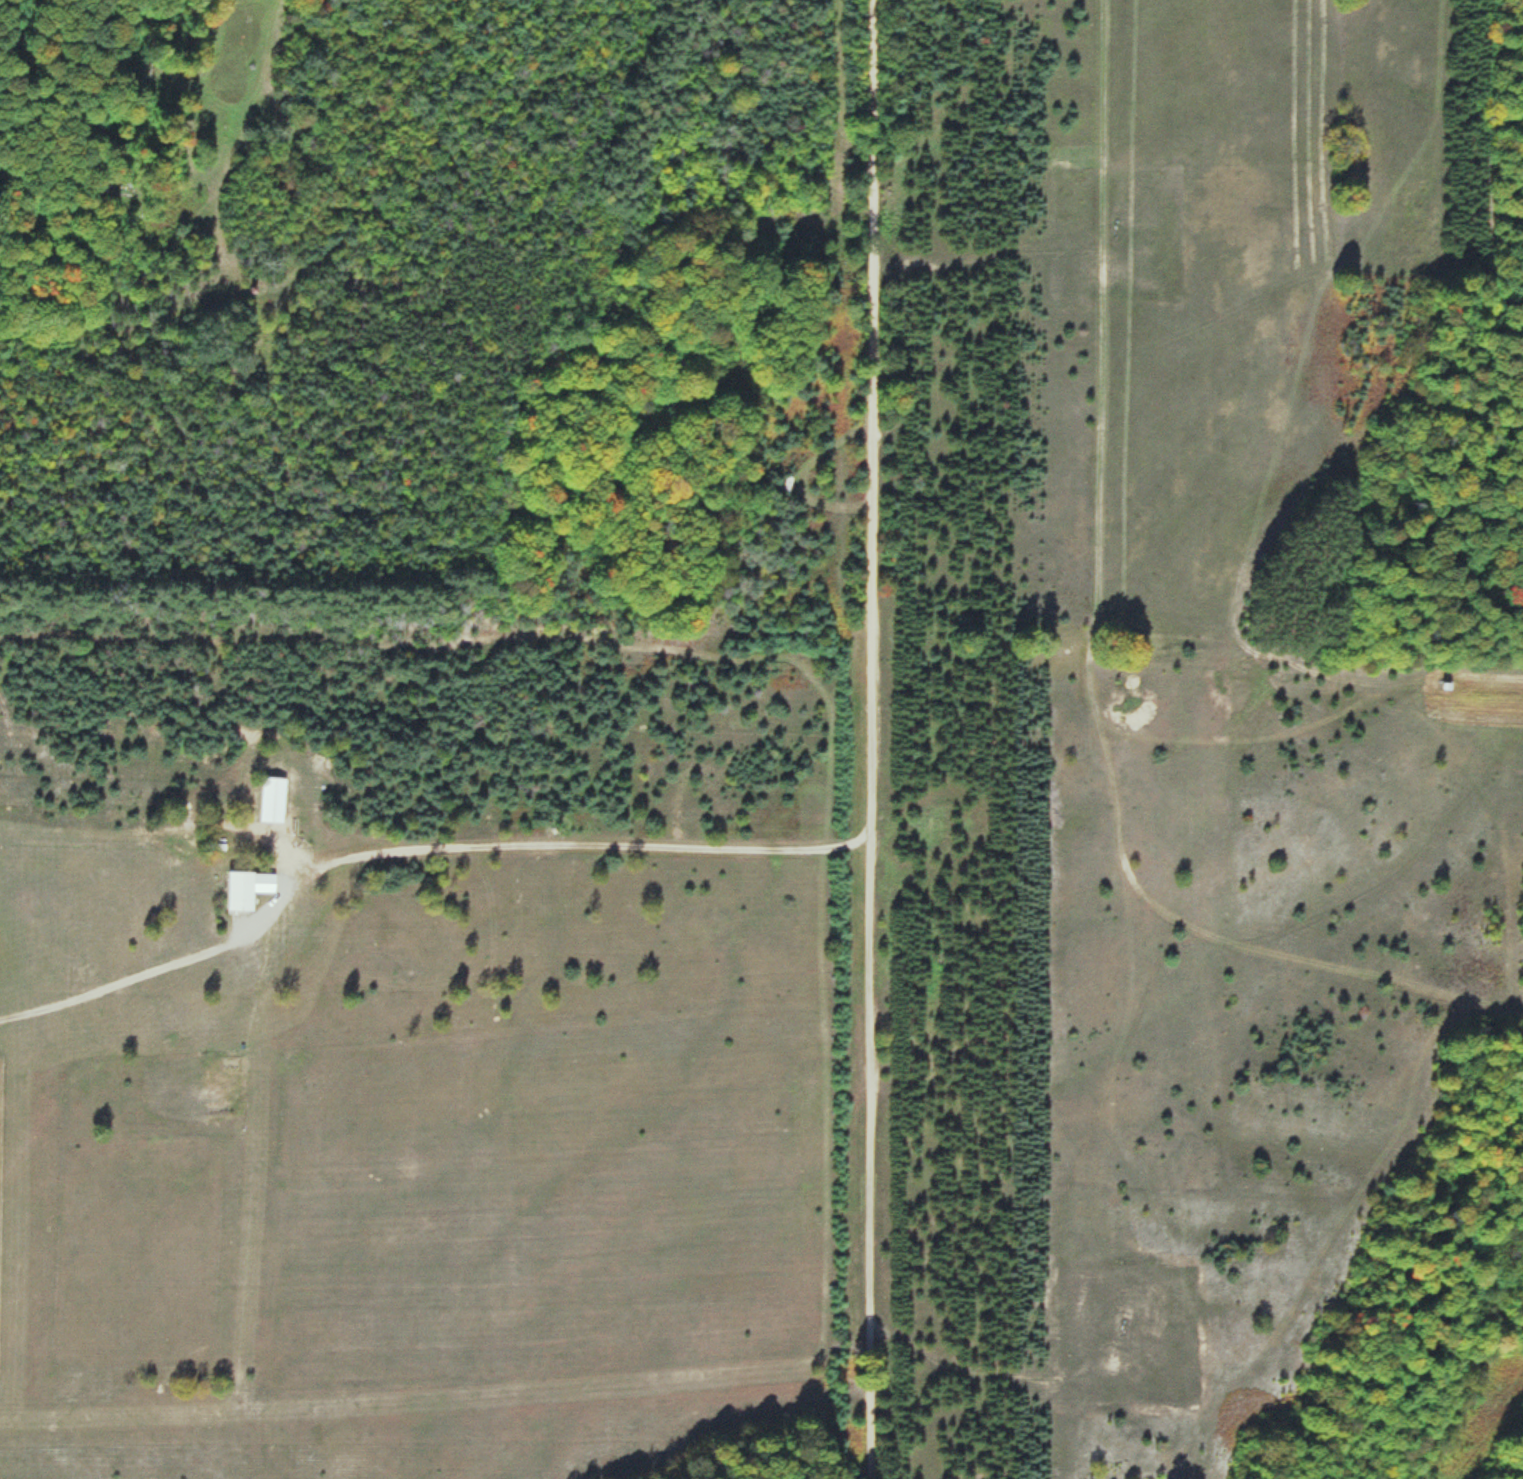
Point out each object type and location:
road: (871, 739)
building: (272, 800)
road: (539, 841)
road: (285, 849)
building: (247, 889)
road: (239, 929)
road: (120, 982)

